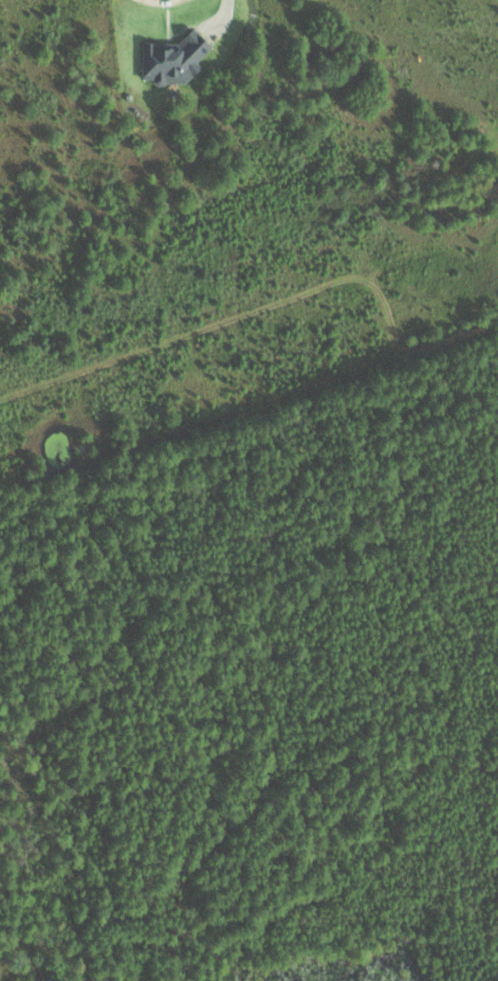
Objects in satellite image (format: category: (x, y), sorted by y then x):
building: (172, 58)

